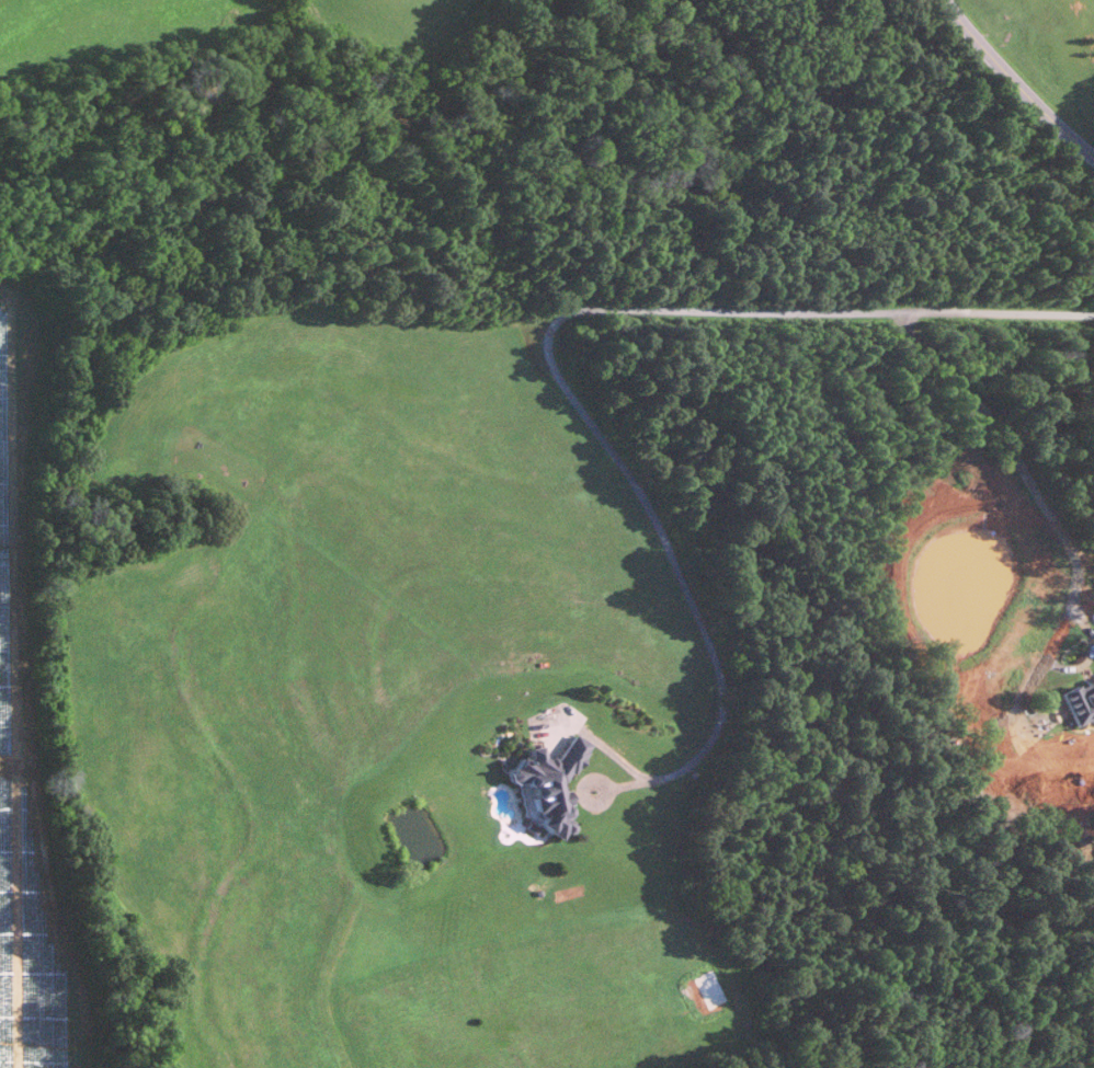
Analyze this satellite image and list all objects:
road: (1014, 81)
road: (566, 311)
road: (1019, 464)
building: (1080, 700)
building: (548, 781)
road: (636, 781)

